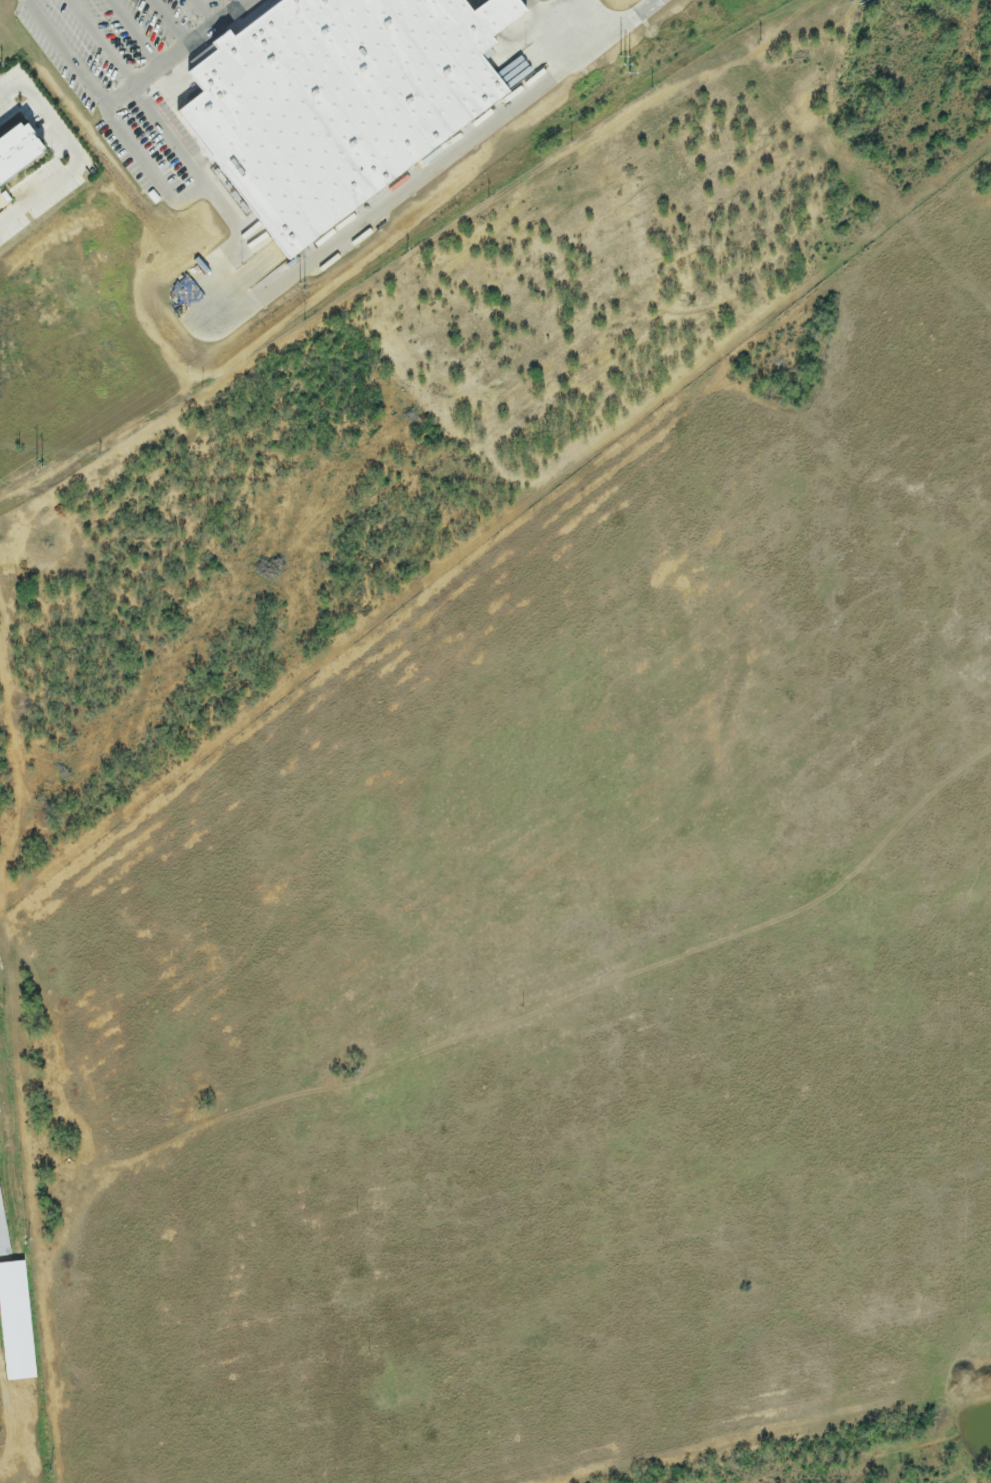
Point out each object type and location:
road: (238, 3)
road: (203, 10)
road: (230, 13)
road: (136, 33)
road: (180, 37)
road: (102, 44)
road: (67, 56)
power tower: (631, 64)
building: (333, 102)
building: (20, 152)
road: (78, 154)
road: (157, 179)
power tower: (307, 284)
power tower: (43, 461)
road: (502, 1021)
building: (9, 1302)

